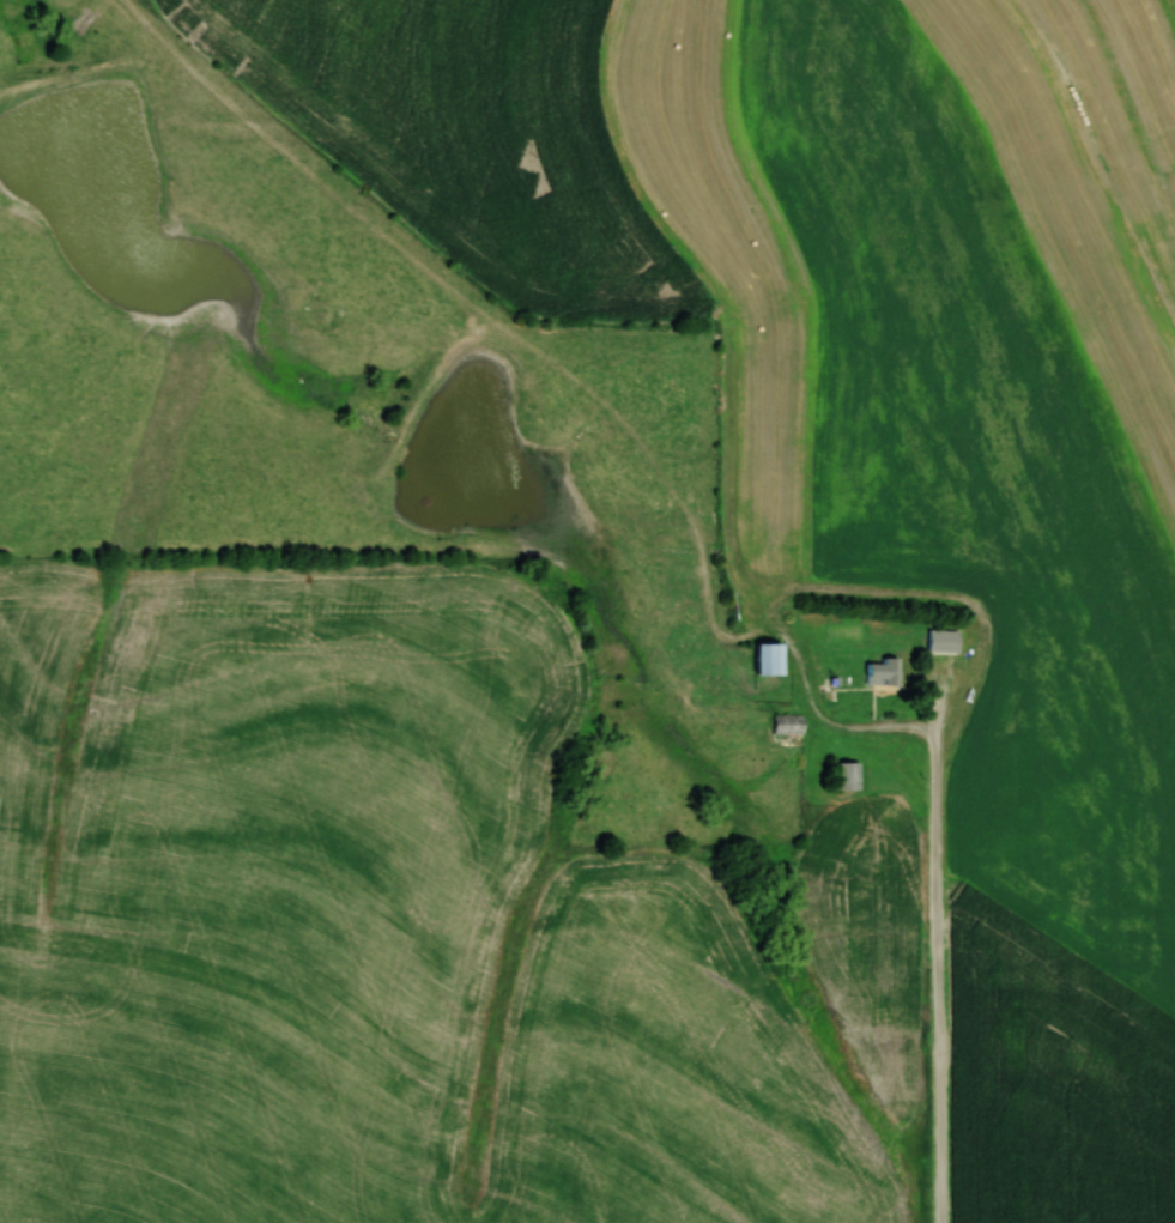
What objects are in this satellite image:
building: (944, 641)
building: (771, 660)
building: (885, 672)
building: (848, 776)
road: (941, 949)

